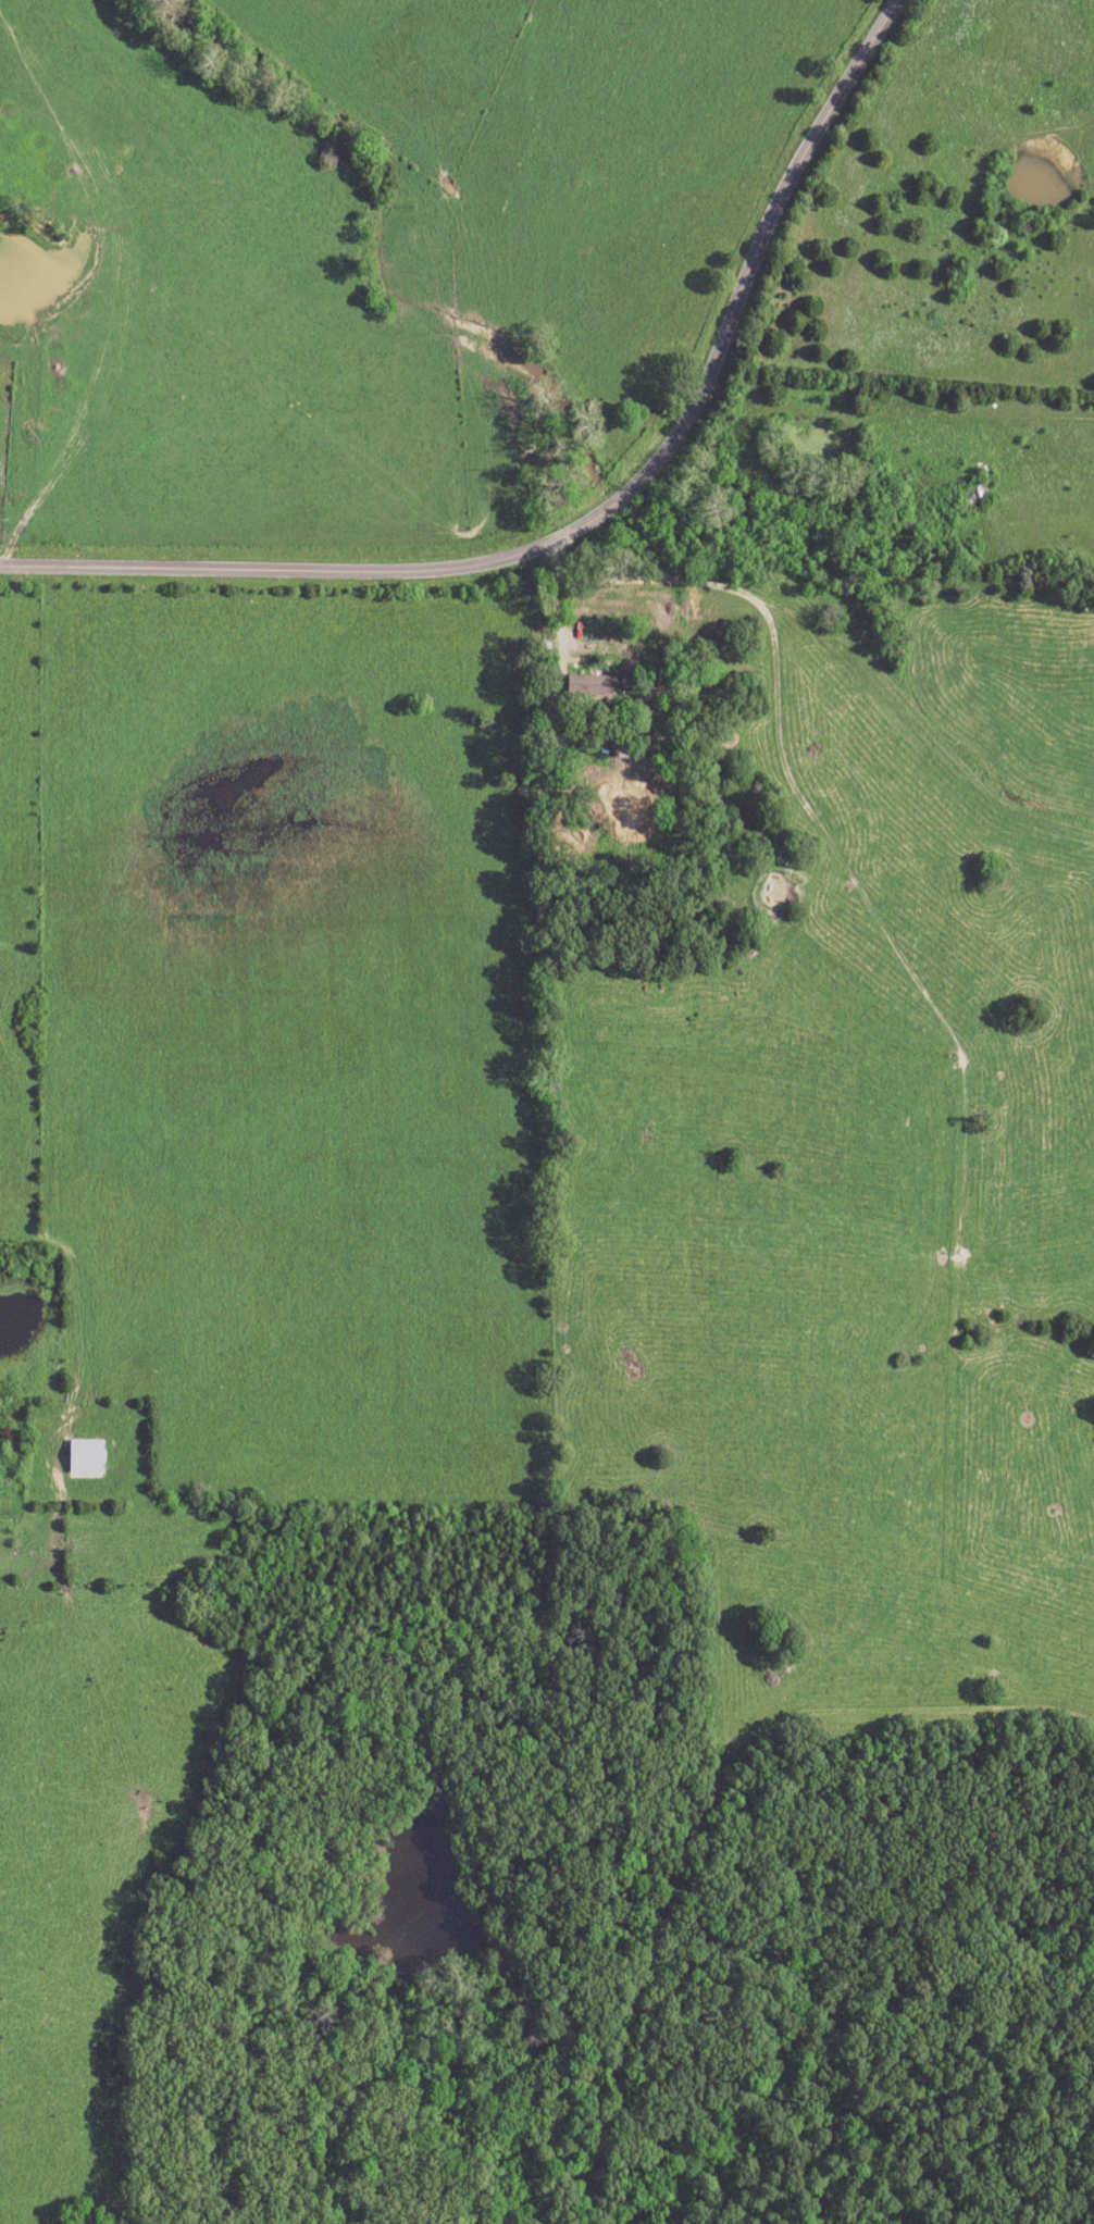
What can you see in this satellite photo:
road: (597, 518)
road: (552, 597)
road: (384, 660)
building: (590, 685)
building: (85, 1457)
road: (89, 2035)

